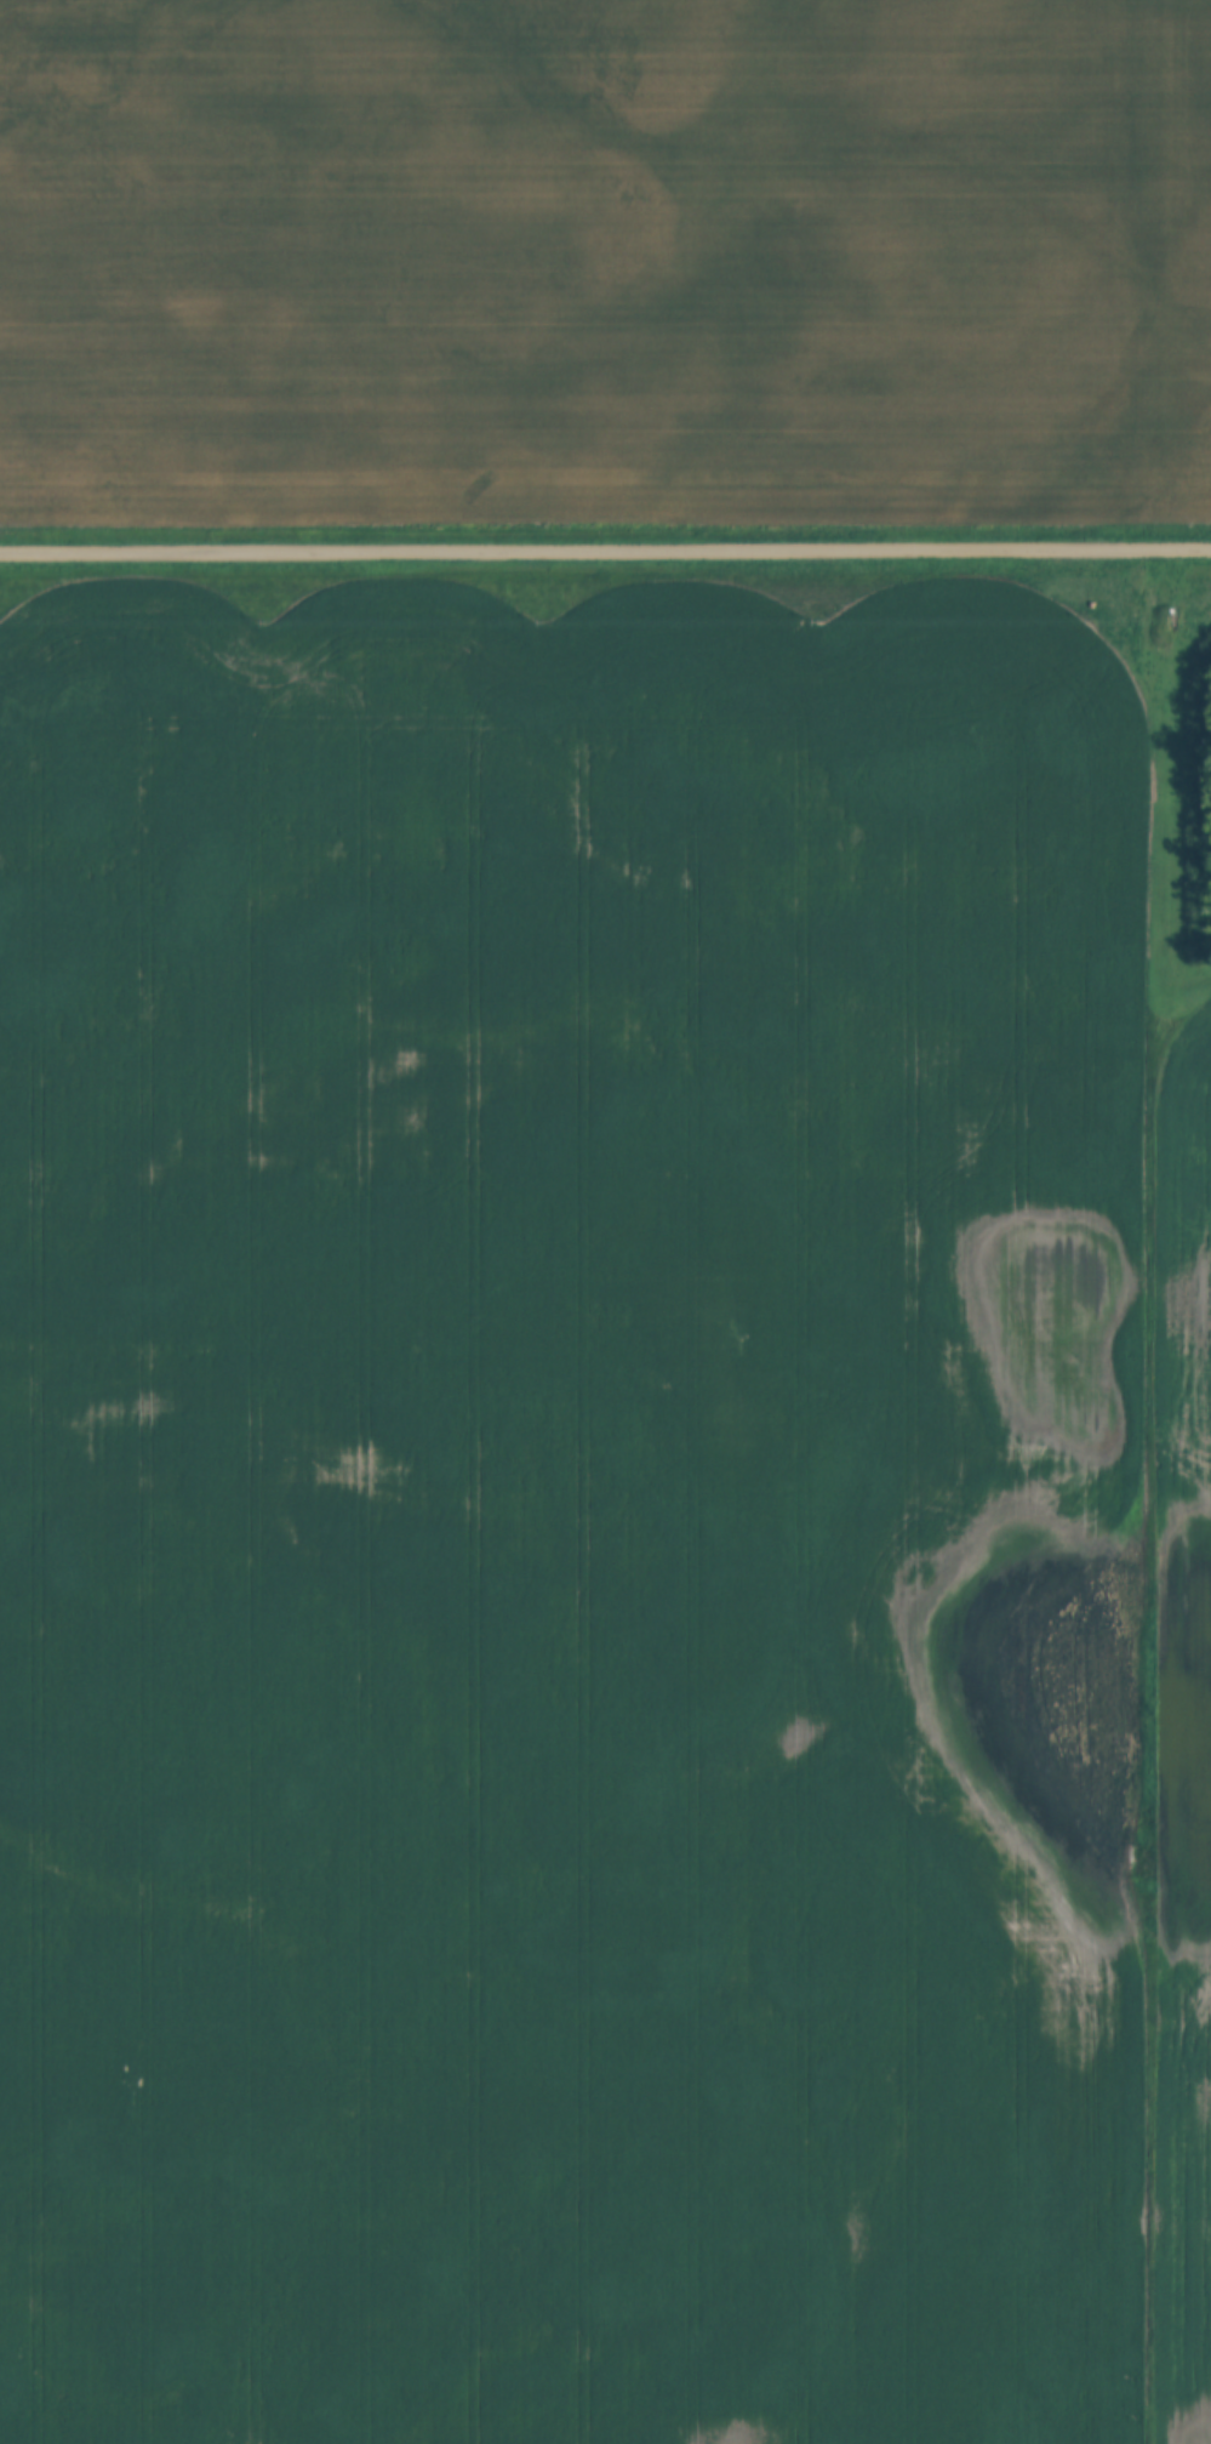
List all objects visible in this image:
road: (605, 552)

